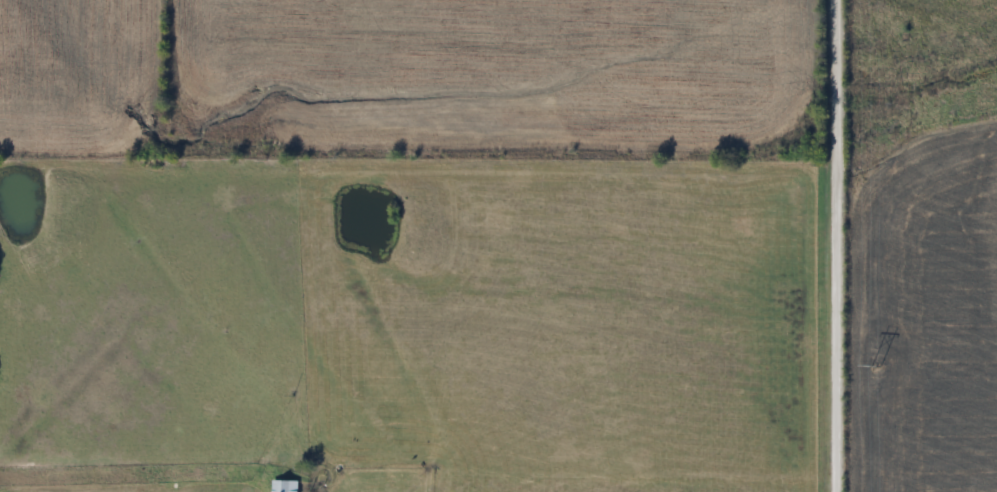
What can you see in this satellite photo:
road: (834, 246)
building: (285, 486)

